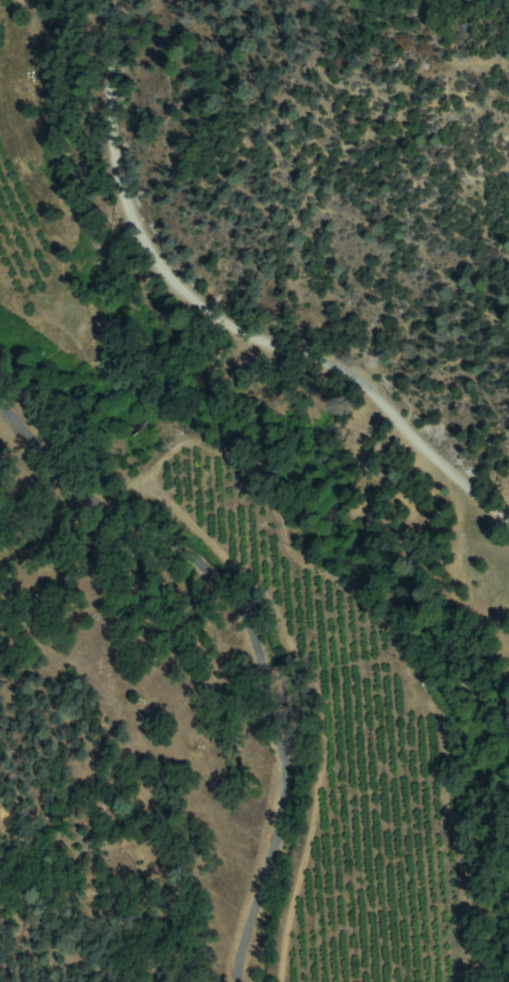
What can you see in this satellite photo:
road: (98, 67)
road: (284, 343)
road: (269, 619)

